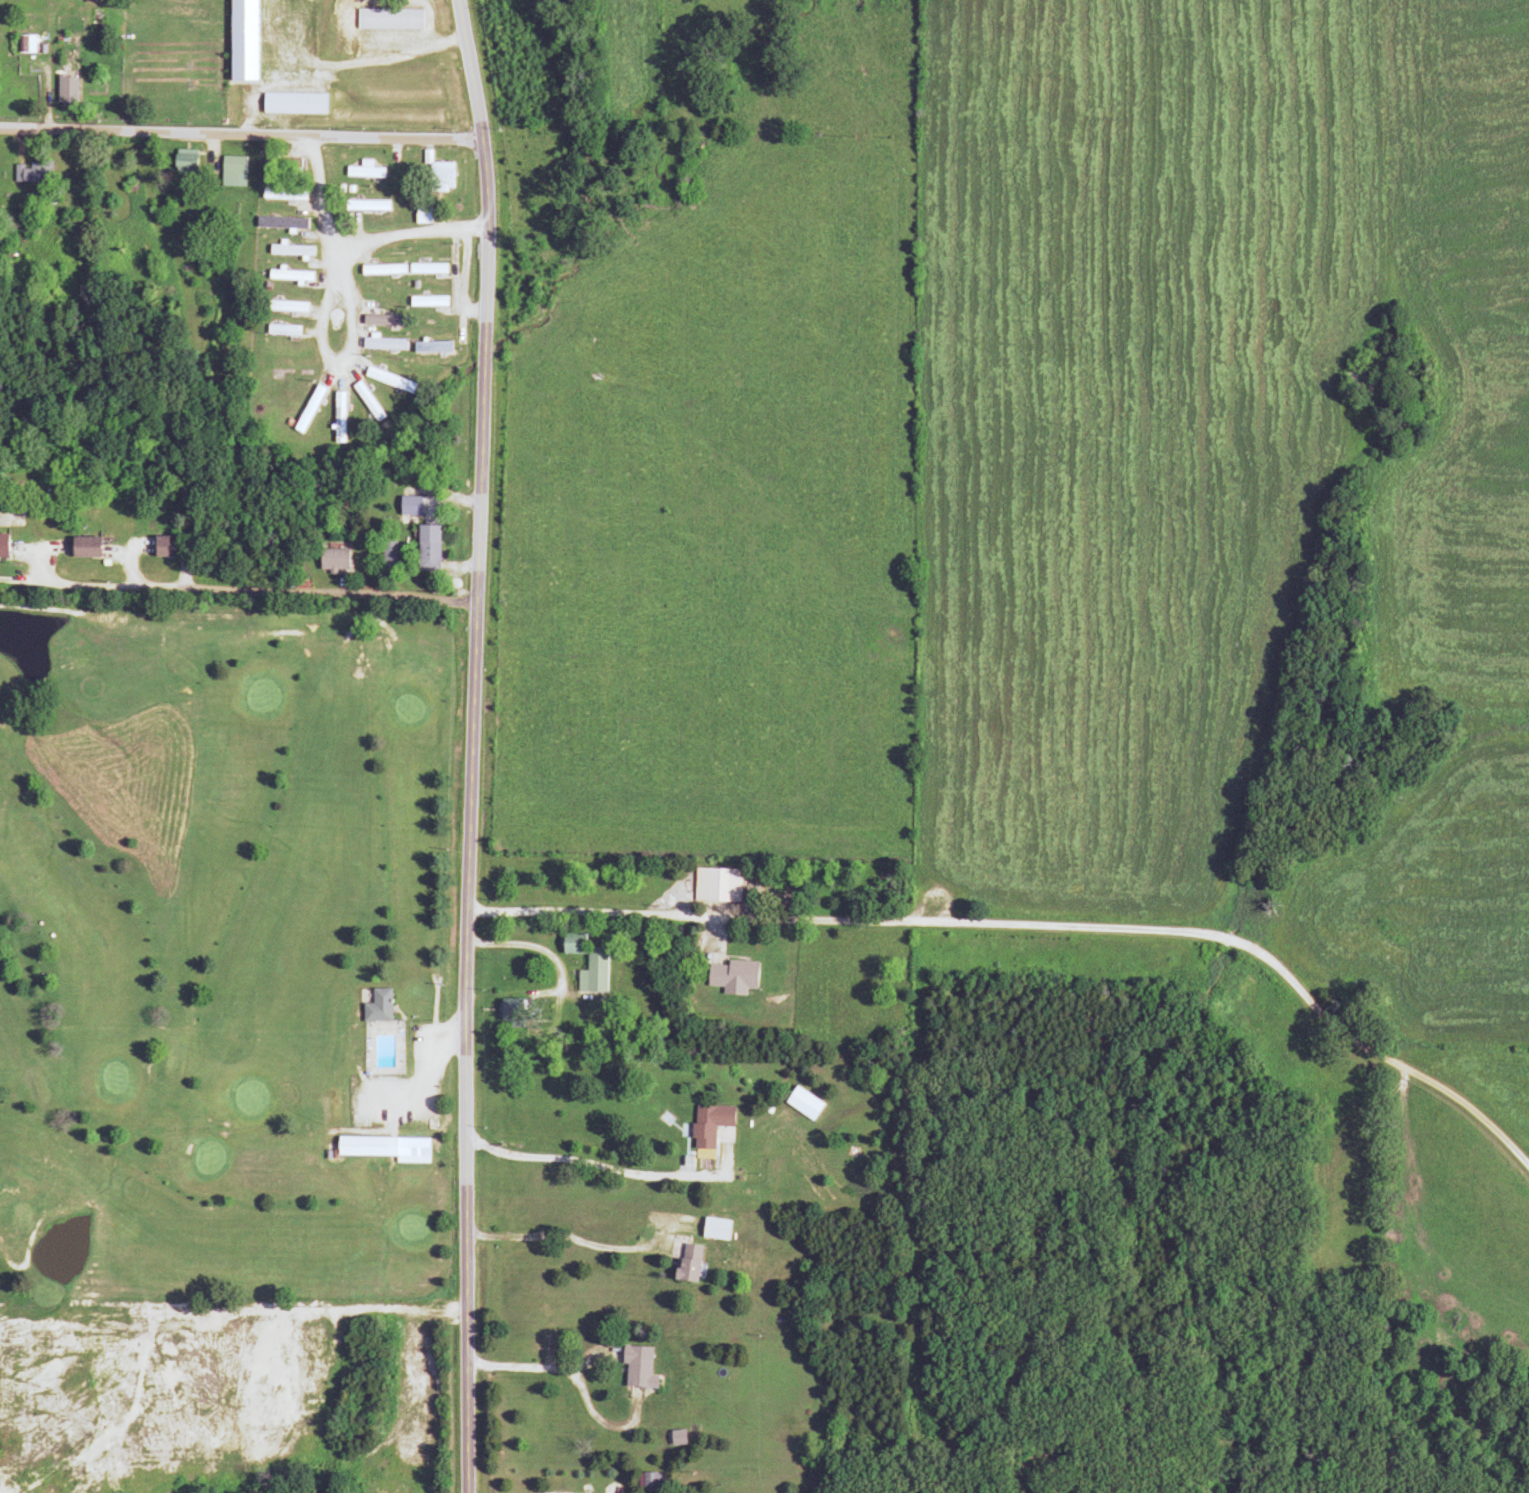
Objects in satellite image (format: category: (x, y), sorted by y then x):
building: (386, 20)
building: (21, 44)
building: (64, 91)
road: (241, 133)
building: (181, 165)
building: (280, 166)
building: (361, 171)
building: (230, 172)
building: (30, 173)
building: (438, 177)
building: (281, 195)
building: (363, 206)
building: (419, 214)
building: (279, 223)
road: (409, 236)
road: (331, 247)
building: (287, 250)
building: (424, 269)
building: (379, 270)
building: (286, 276)
road: (463, 284)
building: (381, 291)
building: (424, 302)
building: (281, 307)
road: (475, 309)
building: (380, 321)
building: (279, 330)
building: (380, 345)
building: (428, 348)
building: (386, 380)
building: (365, 402)
building: (306, 410)
building: (336, 417)
building: (2, 545)
building: (162, 547)
building: (82, 548)
building: (425, 549)
building: (387, 555)
building: (331, 560)
road: (237, 587)
road: (471, 745)
building: (715, 885)
road: (628, 912)
road: (1200, 932)
park: (228, 954)
building: (585, 962)
building: (730, 975)
road: (560, 977)
building: (375, 1006)
building: (509, 1014)
building: (800, 1103)
building: (707, 1124)
building: (383, 1148)
road: (604, 1167)
building: (712, 1229)
road: (571, 1236)
building: (685, 1264)
road: (548, 1366)
building: (634, 1366)
building: (649, 1480)

